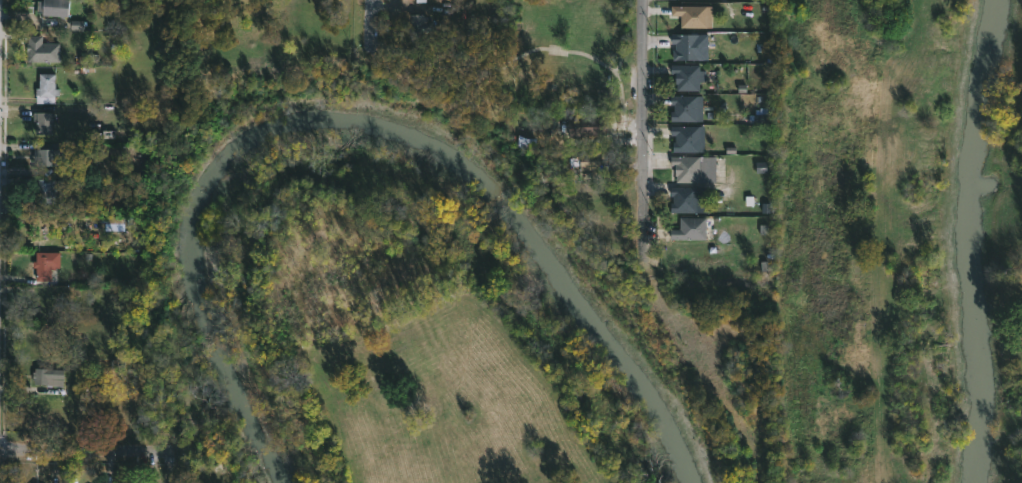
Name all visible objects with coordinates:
building: (53, 7)
road: (373, 14)
building: (692, 16)
building: (419, 23)
building: (687, 46)
building: (52, 50)
building: (684, 76)
building: (47, 88)
building: (685, 108)
building: (44, 122)
building: (580, 125)
road: (640, 134)
building: (687, 138)
building: (48, 156)
building: (588, 160)
building: (695, 168)
building: (74, 174)
building: (50, 191)
building: (687, 199)
building: (688, 228)
building: (47, 264)
building: (49, 377)
road: (86, 450)

